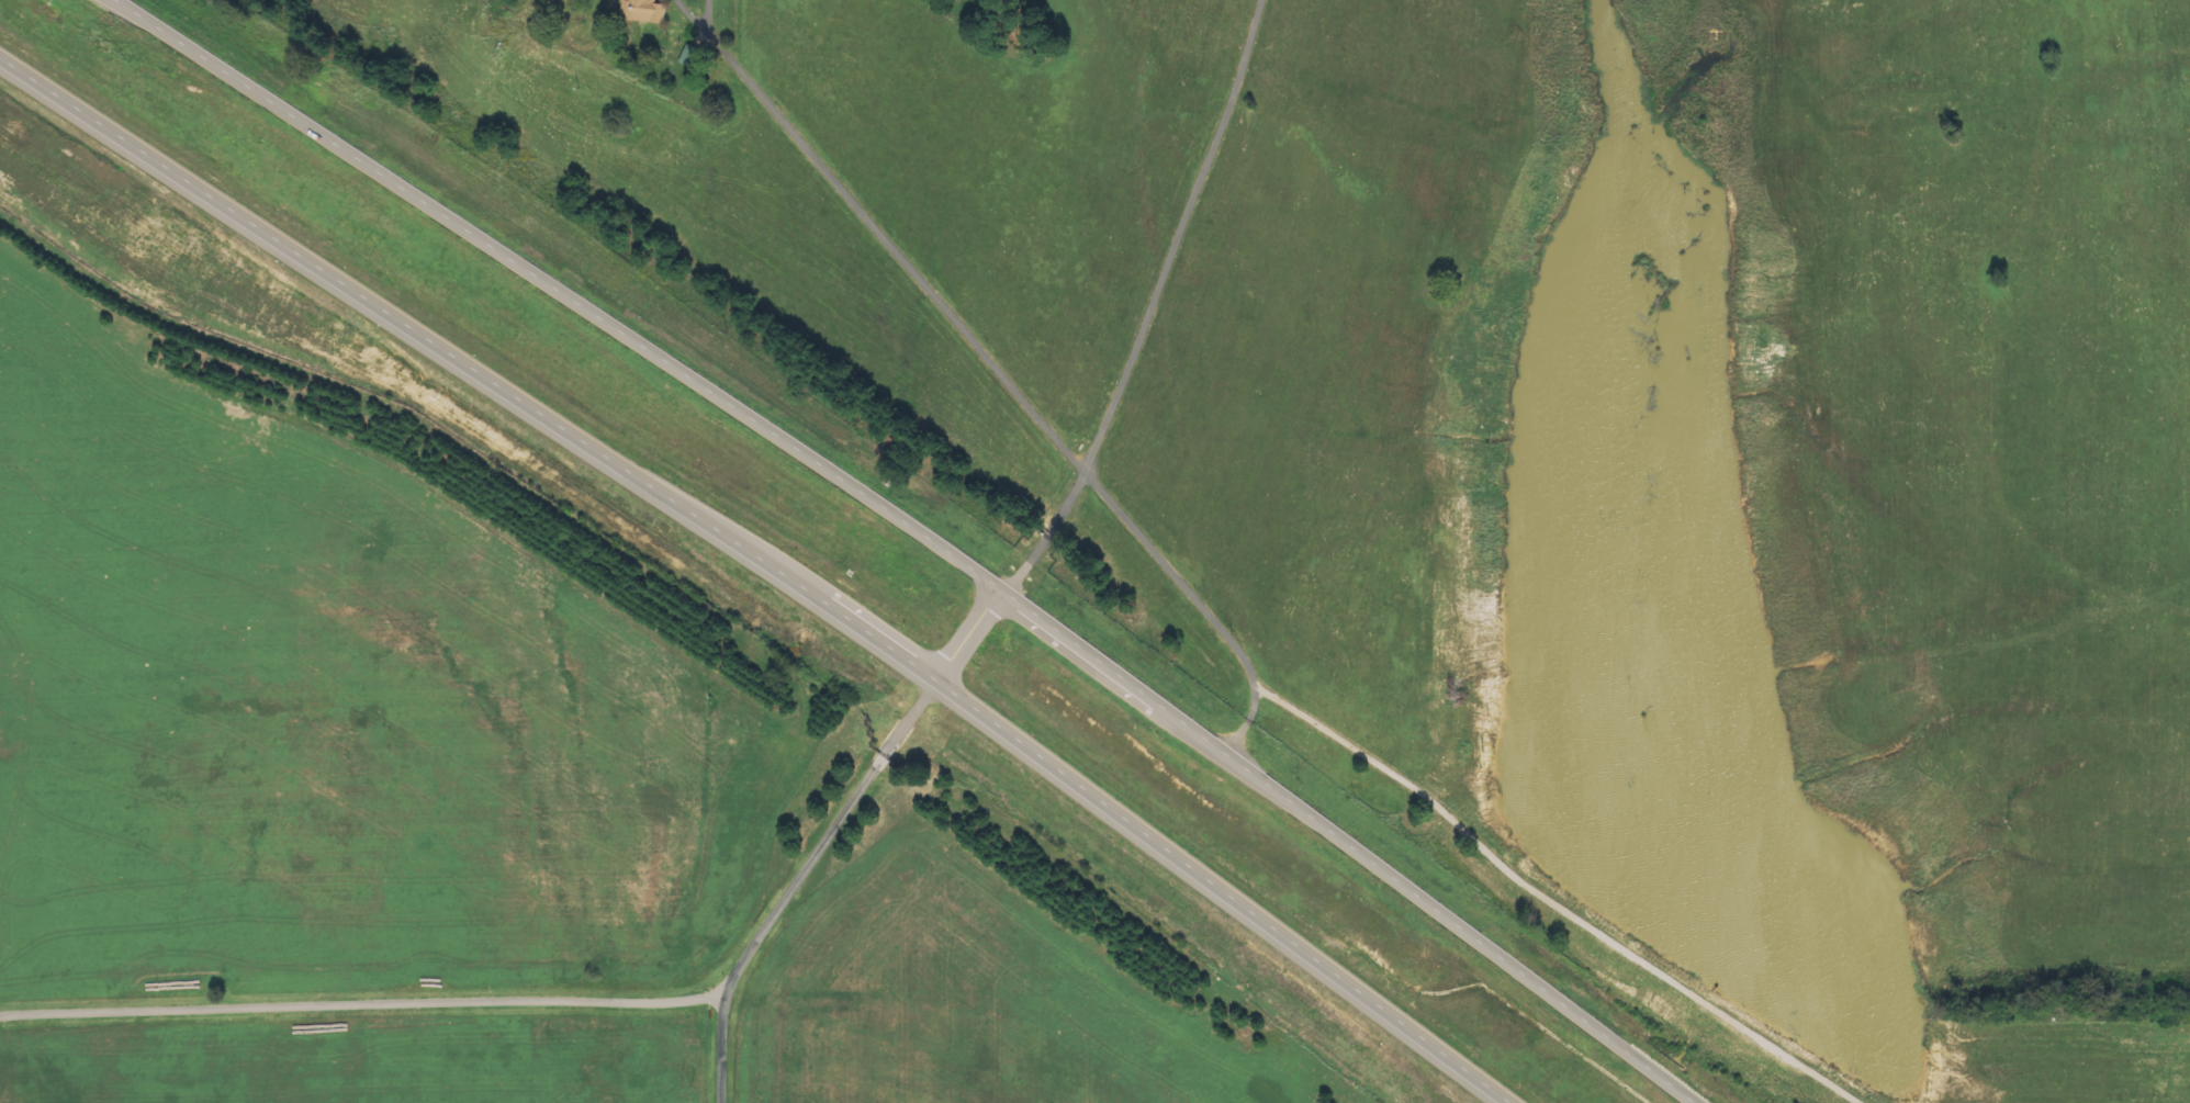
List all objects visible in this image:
building: (645, 11)
building: (693, 57)
road: (910, 532)
road: (765, 569)
road: (606, 1006)
road: (722, 1045)

